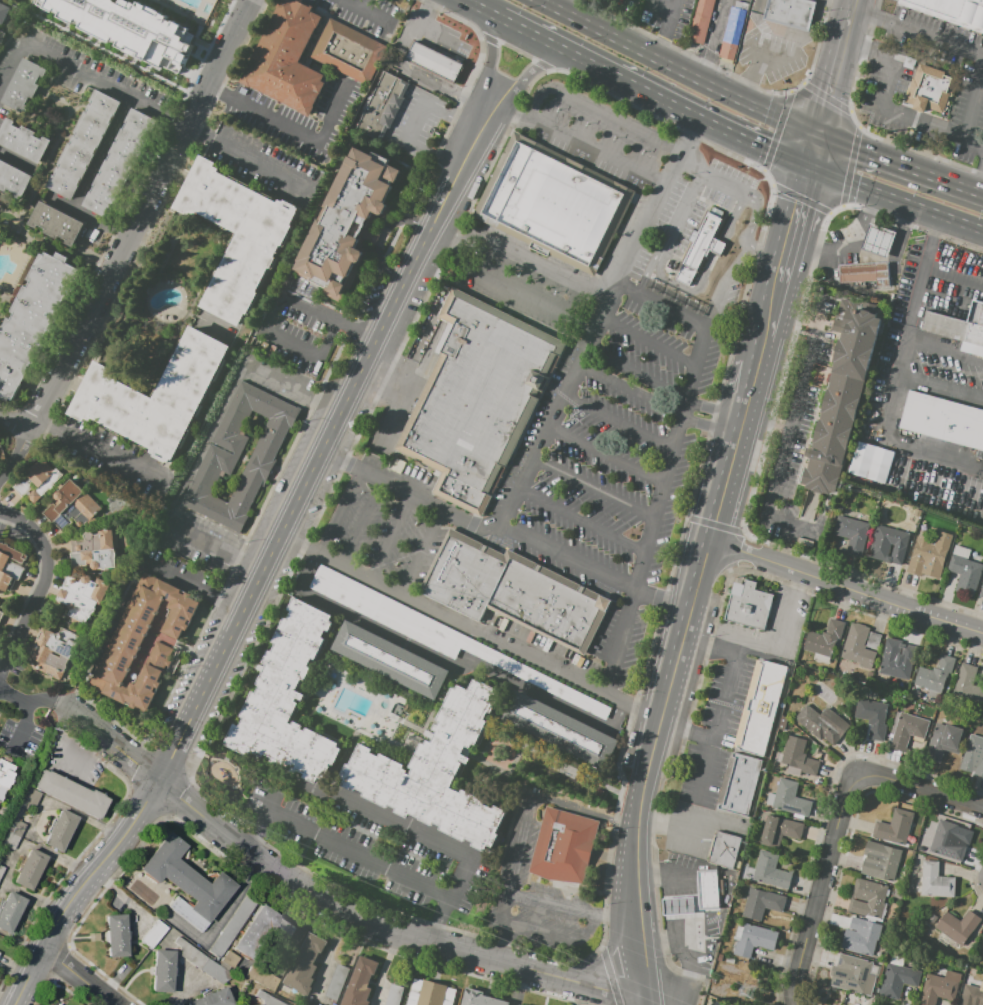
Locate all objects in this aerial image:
road: (845, 2)
road: (852, 2)
road: (354, 4)
road: (363, 4)
parking lot: (625, 5)
road: (671, 5)
road: (566, 6)
road: (485, 9)
road: (443, 11)
building: (949, 12)
building: (3, 13)
building: (789, 14)
road: (374, 15)
building: (703, 21)
road: (664, 25)
road: (759, 26)
building: (129, 27)
road: (917, 30)
building: (734, 34)
parking lot: (435, 36)
road: (711, 40)
parking lot: (777, 44)
road: (241, 45)
road: (492, 47)
road: (780, 48)
building: (346, 50)
road: (812, 56)
building: (287, 59)
building: (434, 62)
road: (220, 64)
road: (538, 66)
road: (677, 70)
road: (835, 70)
road: (411, 71)
road: (84, 74)
road: (890, 81)
building: (24, 84)
building: (931, 90)
road: (654, 95)
parking lot: (897, 105)
building: (383, 106)
parking lot: (967, 110)
road: (606, 113)
road: (970, 116)
road: (410, 119)
parking lot: (423, 125)
road: (290, 126)
traffic signals: (818, 136)
building: (23, 140)
road: (578, 141)
building: (83, 144)
road: (813, 152)
road: (249, 159)
road: (493, 160)
building: (119, 164)
road: (900, 165)
traffic signals: (809, 168)
road: (716, 177)
building: (13, 180)
road: (980, 184)
road: (895, 199)
building: (553, 203)
building: (348, 221)
road: (751, 222)
building: (56, 223)
road: (793, 224)
road: (913, 227)
road: (667, 229)
building: (237, 235)
road: (453, 237)
building: (878, 238)
gas station: (878, 238)
road: (471, 249)
building: (700, 250)
road: (896, 250)
road: (765, 252)
road: (853, 254)
road: (733, 266)
road: (955, 266)
building: (867, 274)
road: (111, 277)
road: (917, 292)
road: (941, 296)
road: (662, 301)
road: (273, 306)
road: (771, 309)
building: (32, 320)
road: (600, 320)
parking lot: (298, 324)
building: (959, 328)
parking lot: (826, 336)
road: (650, 343)
parking lot: (823, 346)
road: (760, 351)
road: (944, 351)
parking lot: (613, 370)
parking lot: (275, 379)
road: (940, 383)
road: (661, 386)
road: (750, 390)
road: (411, 392)
building: (479, 392)
building: (156, 397)
building: (839, 401)
road: (654, 404)
road: (4, 406)
road: (12, 409)
road: (17, 418)
building: (870, 418)
building: (943, 420)
road: (790, 422)
road: (619, 424)
road: (680, 435)
road: (762, 437)
road: (899, 442)
road: (17, 453)
road: (99, 455)
road: (608, 457)
road: (732, 457)
building: (861, 459)
building: (879, 464)
building: (218, 465)
building: (37, 480)
road: (596, 490)
building: (462, 496)
building: (72, 506)
building: (917, 512)
road: (347, 514)
building: (924, 514)
road: (584, 521)
road: (364, 522)
road: (484, 528)
building: (853, 533)
road: (393, 536)
parking lot: (390, 537)
parking lot: (197, 541)
building: (889, 544)
road: (421, 549)
building: (95, 550)
building: (929, 552)
road: (273, 560)
building: (10, 566)
building: (964, 570)
parking lot: (178, 572)
road: (39, 585)
road: (846, 587)
road: (197, 588)
building: (513, 591)
building: (981, 591)
road: (693, 593)
building: (83, 597)
road: (664, 597)
building: (748, 606)
building: (389, 612)
parking lot: (389, 612)
building: (1, 614)
road: (473, 625)
road: (784, 634)
road: (621, 637)
building: (825, 638)
building: (873, 640)
building: (126, 645)
building: (54, 650)
building: (856, 655)
building: (390, 659)
building: (897, 659)
road: (449, 666)
building: (936, 674)
building: (536, 679)
parking lot: (536, 679)
building: (967, 684)
building: (934, 694)
building: (920, 698)
road: (26, 700)
building: (286, 700)
road: (70, 710)
road: (724, 710)
building: (763, 710)
building: (873, 714)
building: (823, 724)
building: (558, 729)
building: (908, 729)
road: (687, 732)
parking lot: (717, 736)
parking lot: (636, 741)
building: (944, 742)
building: (973, 755)
building: (798, 758)
road: (68, 765)
building: (6, 771)
building: (434, 772)
building: (742, 787)
road: (920, 790)
building: (70, 793)
road: (538, 797)
building: (31, 798)
building: (788, 798)
road: (383, 816)
road: (665, 824)
building: (894, 827)
parking lot: (696, 828)
building: (60, 830)
building: (779, 830)
road: (314, 831)
building: (14, 833)
building: (947, 841)
road: (638, 842)
parking lot: (368, 847)
building: (560, 847)
building: (725, 850)
road: (360, 853)
building: (880, 861)
building: (2, 866)
building: (30, 869)
building: (770, 870)
building: (934, 881)
building: (187, 882)
building: (707, 890)
road: (820, 891)
parking lot: (534, 898)
road: (540, 898)
road: (347, 899)
building: (868, 899)
building: (761, 903)
building: (676, 907)
gas station: (676, 907)
building: (10, 910)
road: (677, 910)
building: (232, 926)
building: (957, 928)
building: (263, 932)
building: (155, 933)
building: (117, 934)
building: (94, 936)
building: (861, 937)
building: (753, 939)
road: (333, 942)
road: (605, 956)
building: (202, 960)
building: (306, 964)
building: (163, 970)
building: (853, 974)
road: (84, 978)
building: (263, 978)
building: (898, 978)
building: (336, 981)
building: (360, 983)
building: (939, 987)
power tower: (745, 992)
building: (430, 993)
building: (394, 995)
building: (972, 995)
building: (213, 998)
building: (480, 998)
building: (268, 999)
road: (650, 1002)

